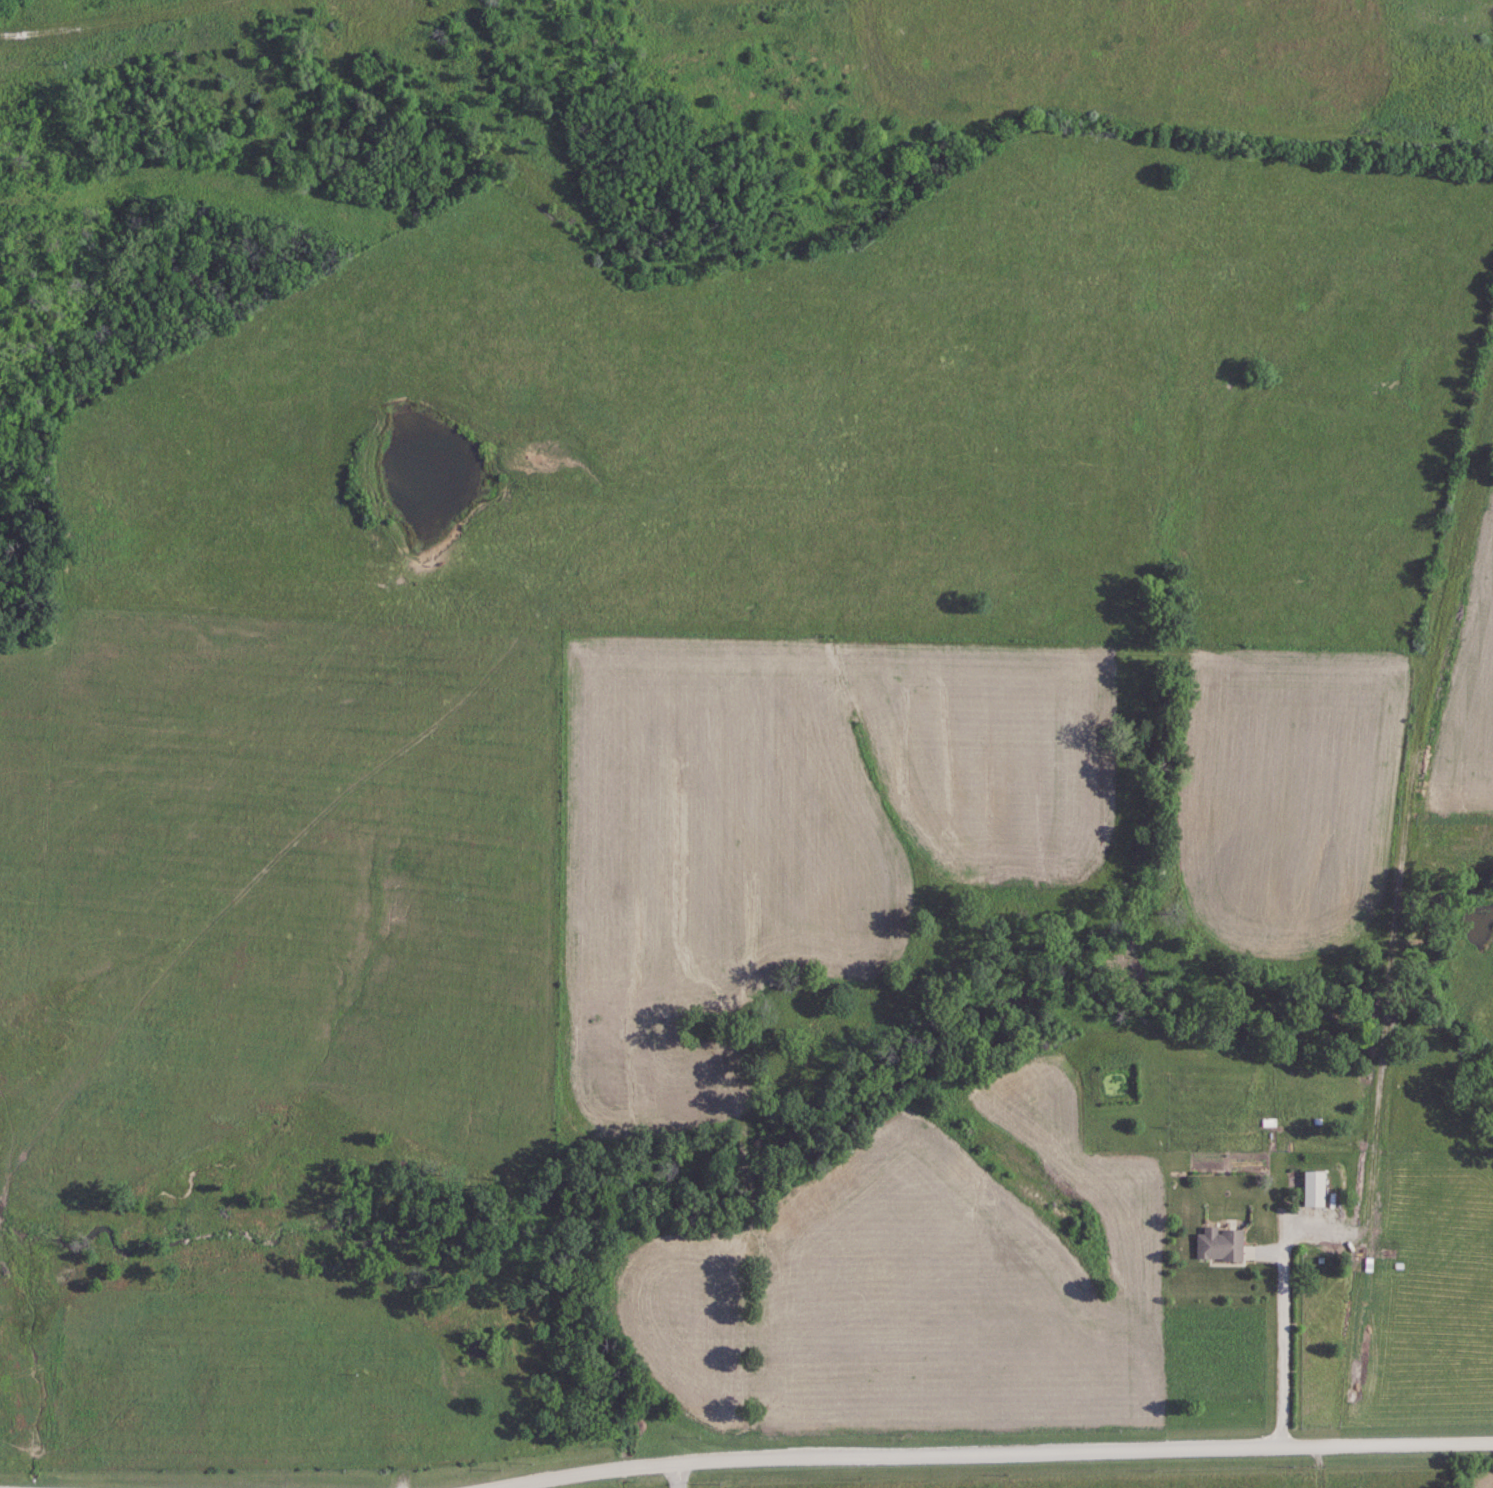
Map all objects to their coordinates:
road: (113, 23)
building: (1313, 1188)
building: (1218, 1243)
road: (1282, 1315)
road: (1000, 1451)
road: (672, 1476)

